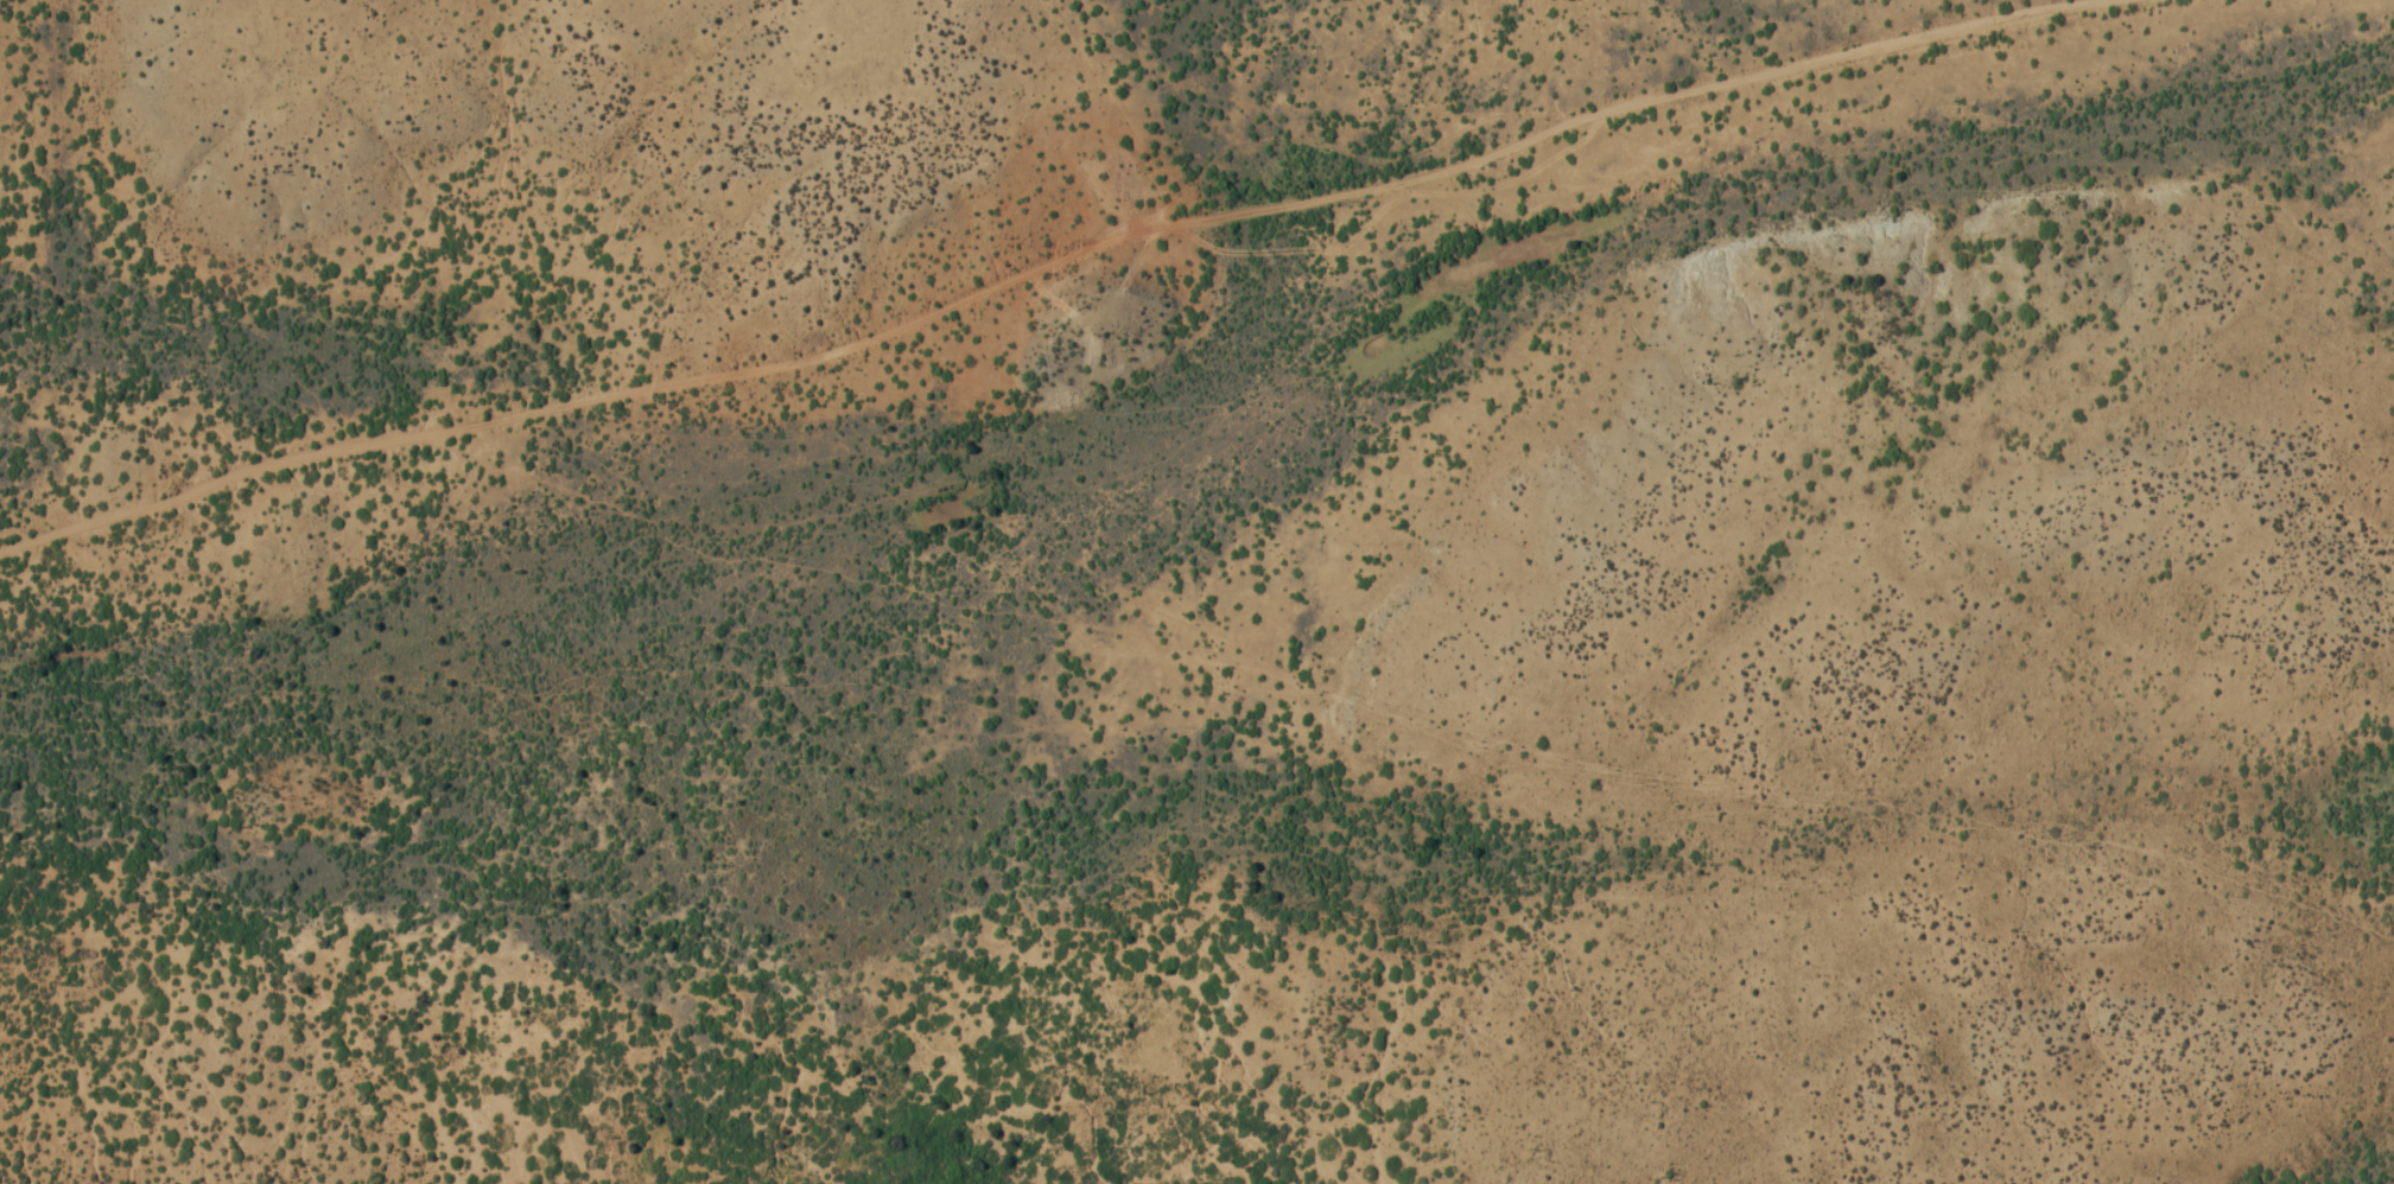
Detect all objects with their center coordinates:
road: (1042, 263)

